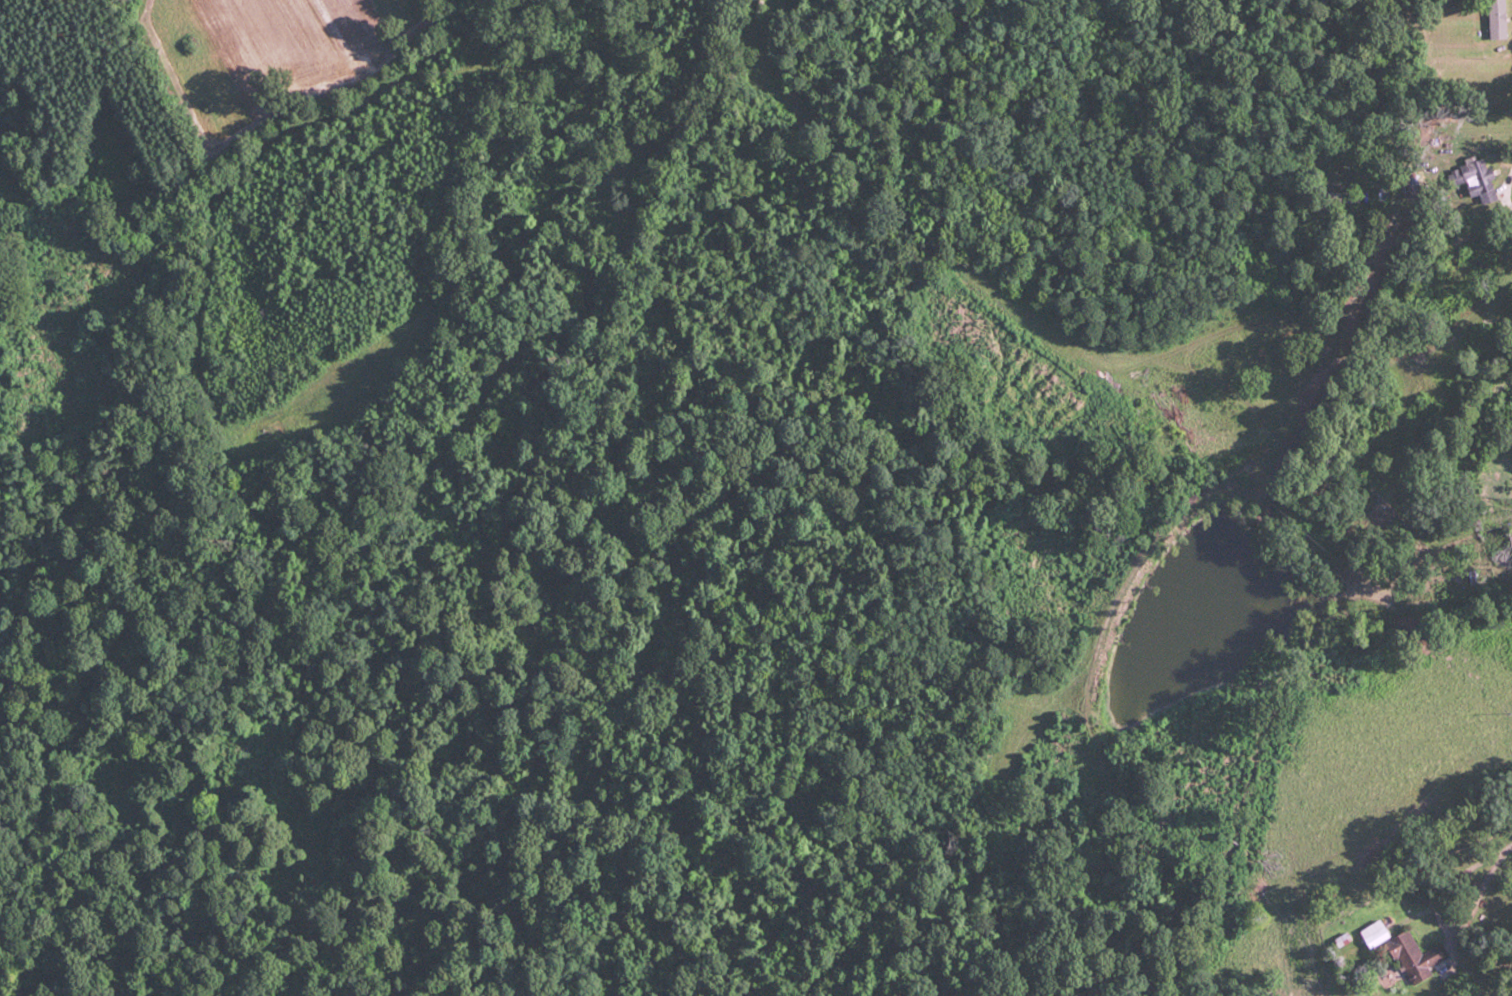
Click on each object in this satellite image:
building: (1494, 19)
building: (1471, 177)
building: (1415, 957)

